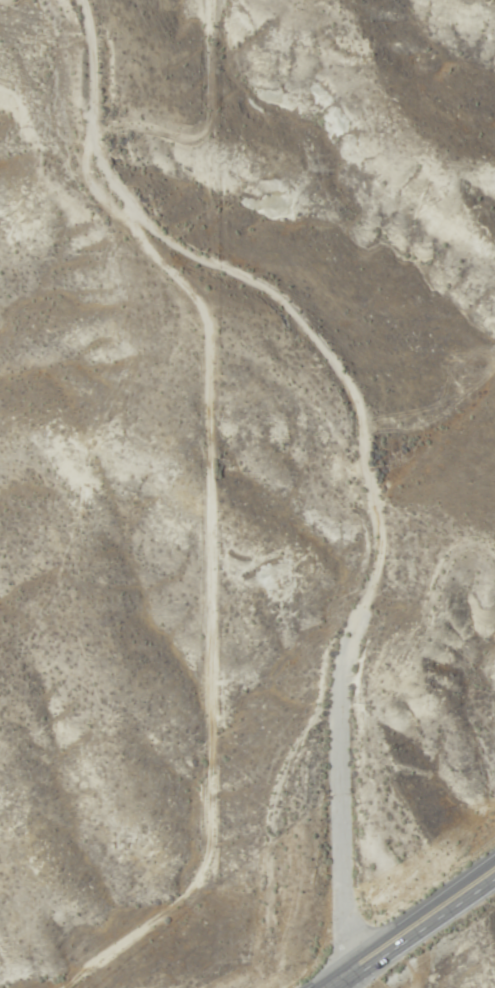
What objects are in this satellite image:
road: (357, 442)
road: (418, 922)
road: (333, 982)

